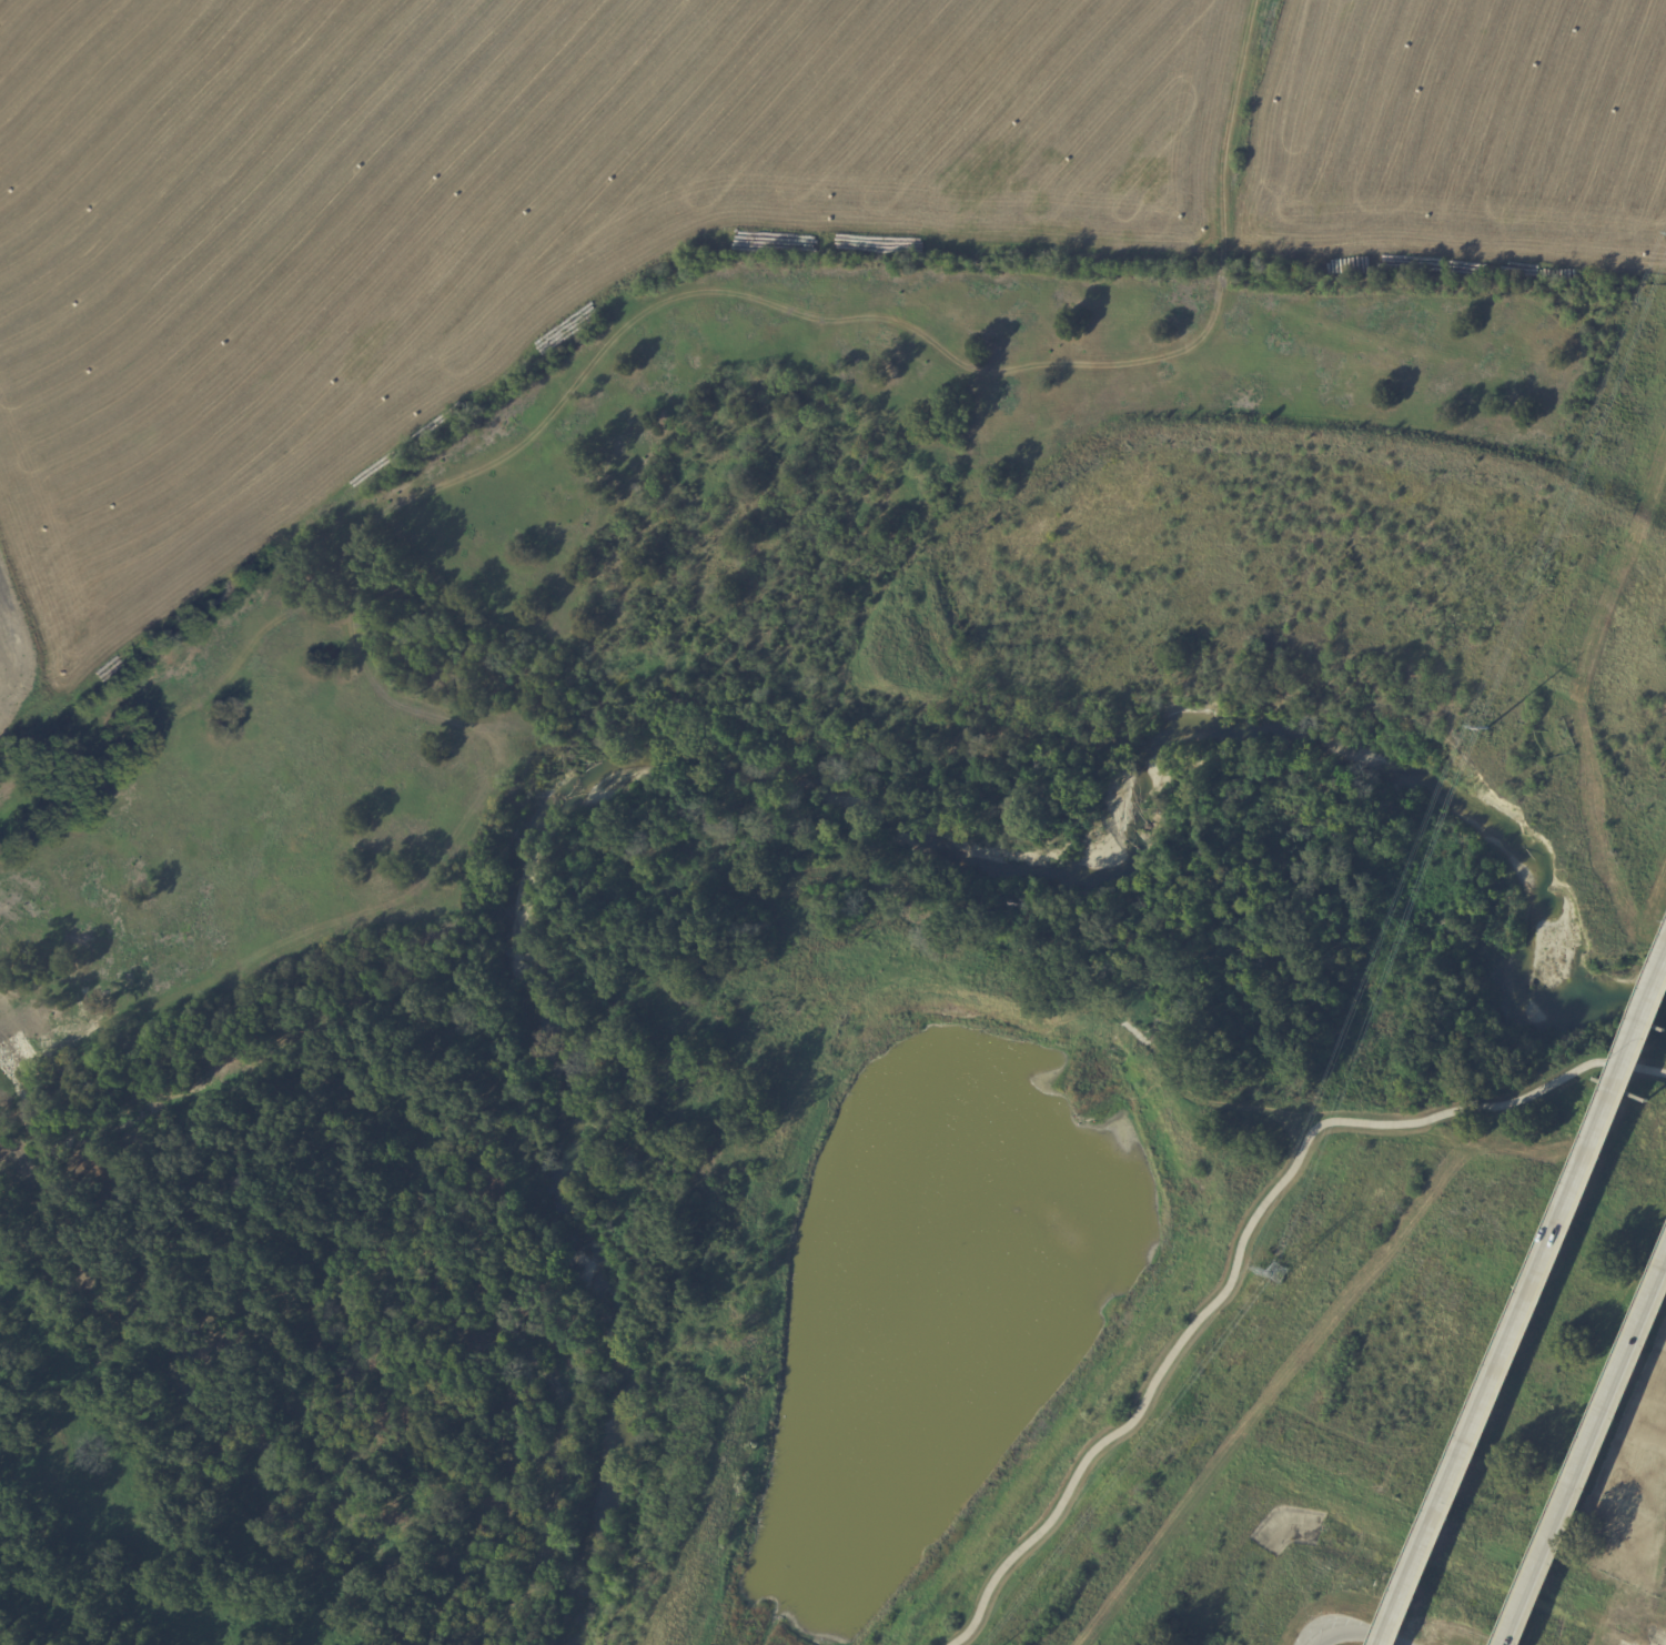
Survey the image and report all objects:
power tower: (1496, 728)
river: (804, 793)
road: (1241, 1240)
power tower: (1289, 1268)
road: (1528, 1309)
road: (1591, 1464)
road: (1352, 1631)

